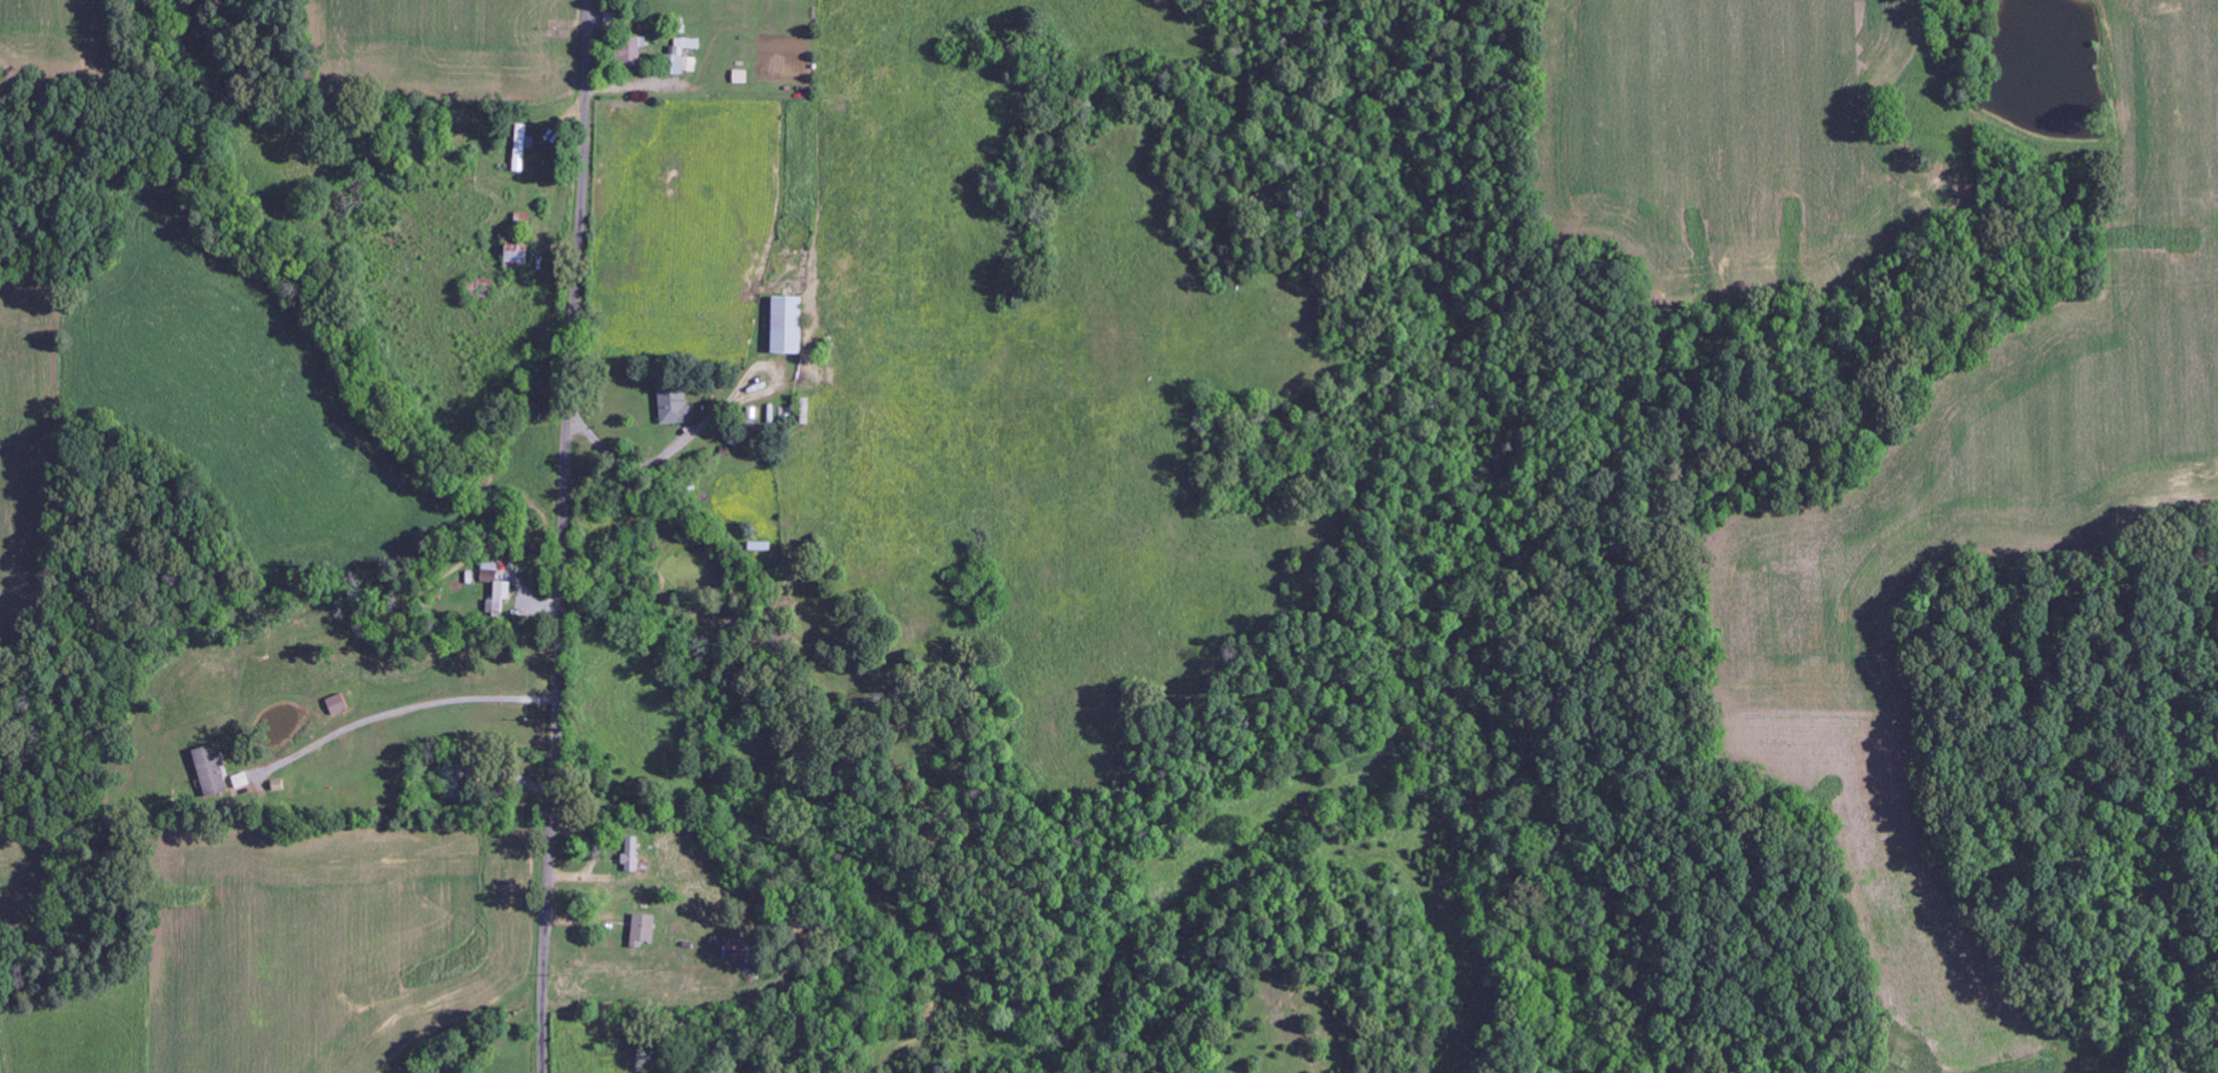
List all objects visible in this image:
building: (613, 19)
building: (633, 51)
building: (683, 54)
building: (522, 146)
building: (518, 257)
building: (788, 325)
building: (676, 403)
road: (562, 536)
building: (489, 573)
building: (499, 598)
building: (338, 704)
building: (211, 770)
building: (451, 782)
building: (632, 855)
building: (643, 930)
building: (739, 949)

